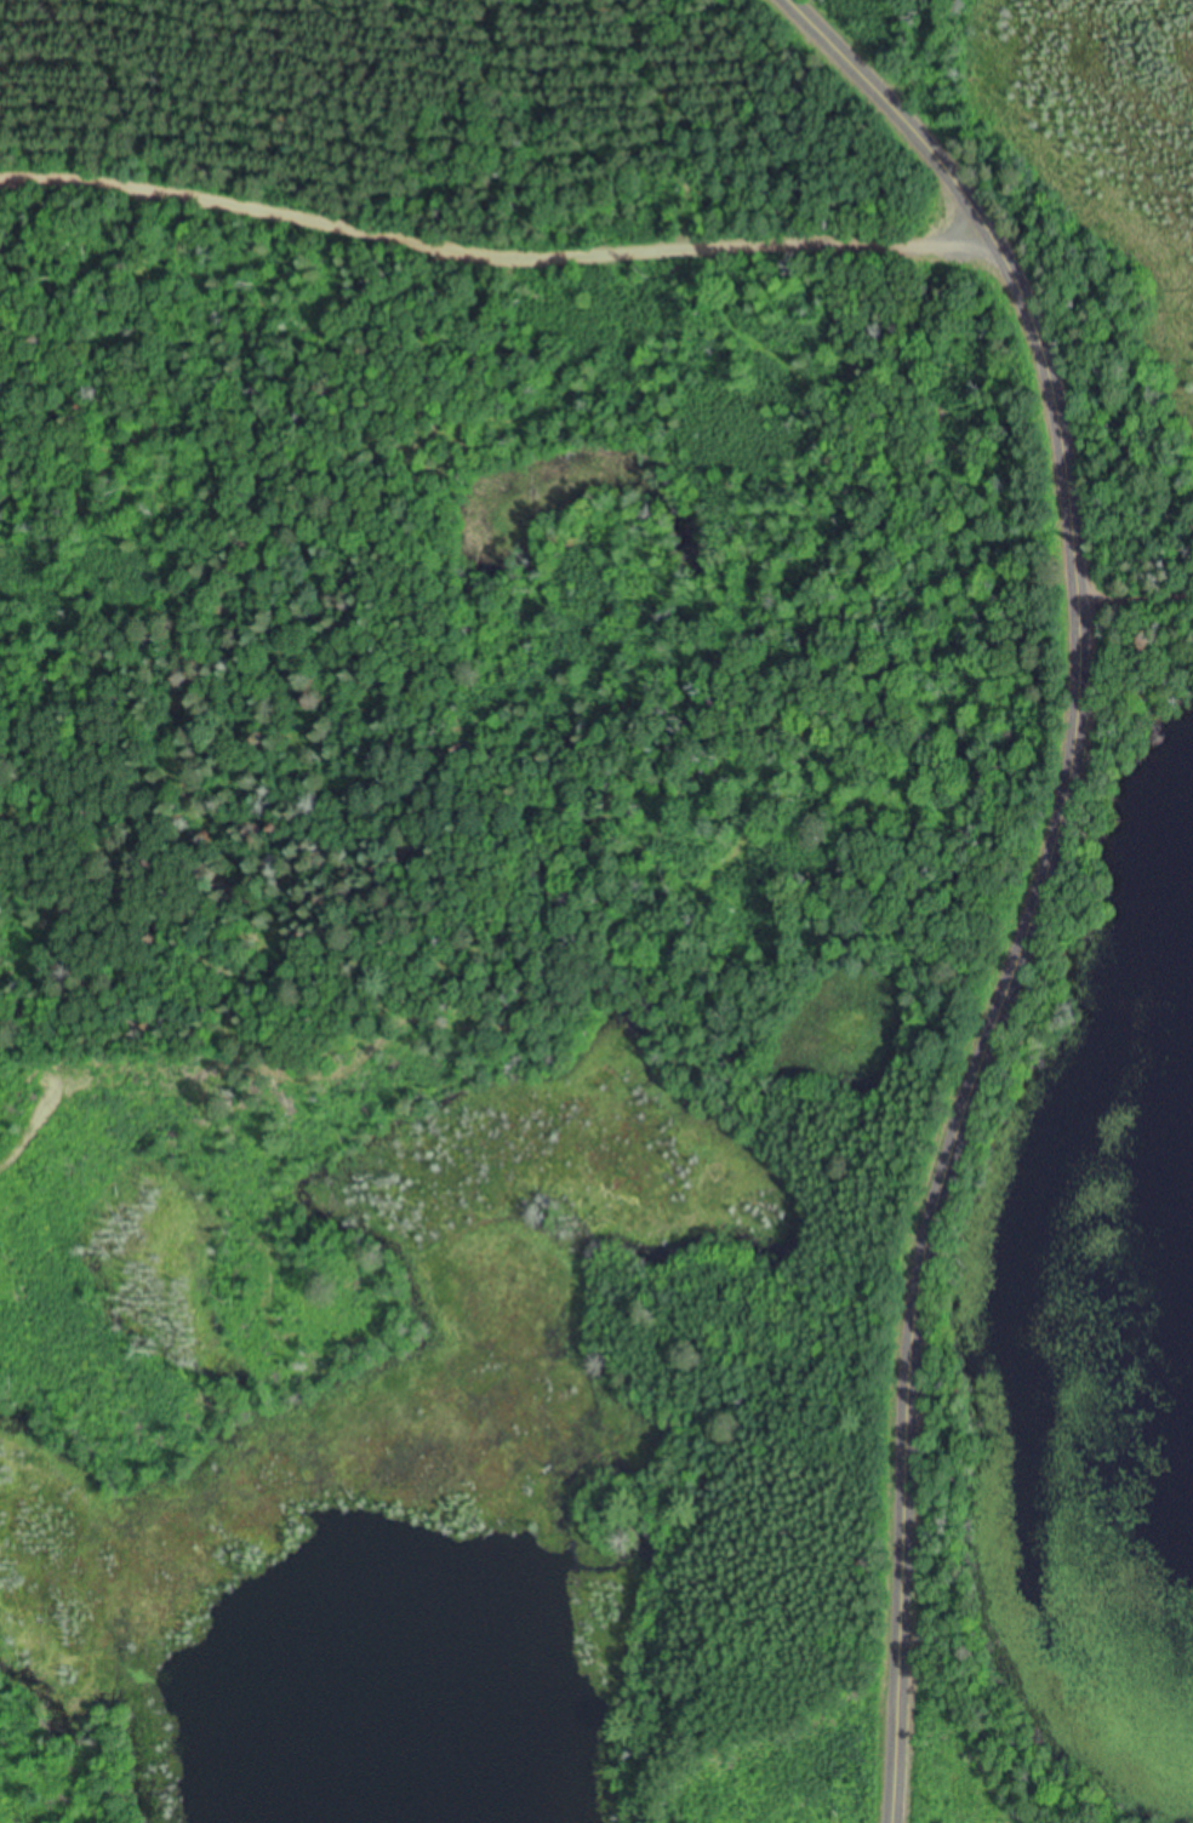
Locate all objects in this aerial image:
road: (502, 258)
road: (1040, 872)

